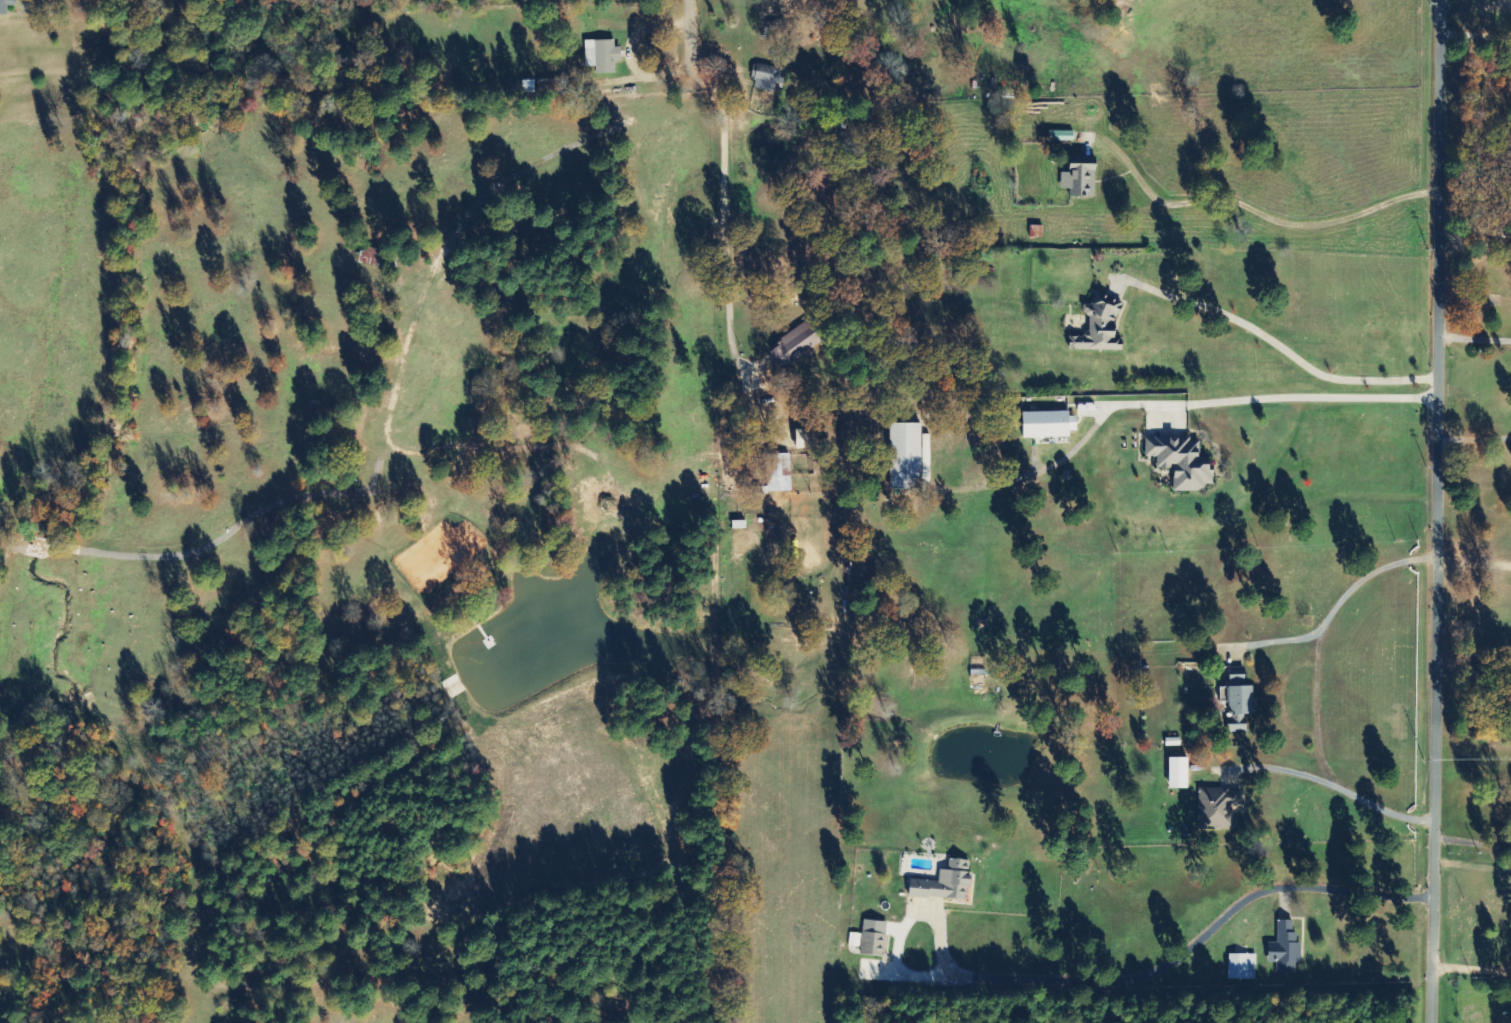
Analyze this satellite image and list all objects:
building: (6, 6)
road: (687, 31)
building: (603, 56)
building: (768, 77)
building: (1080, 178)
building: (374, 256)
building: (1100, 327)
building: (796, 345)
building: (1049, 424)
building: (807, 438)
building: (906, 456)
building: (1182, 462)
building: (778, 474)
road: (1445, 511)
building: (978, 685)
building: (1173, 742)
building: (1178, 773)
building: (1218, 808)
road: (1478, 847)
building: (945, 883)
building: (870, 938)
building: (1286, 949)
building: (1243, 967)

